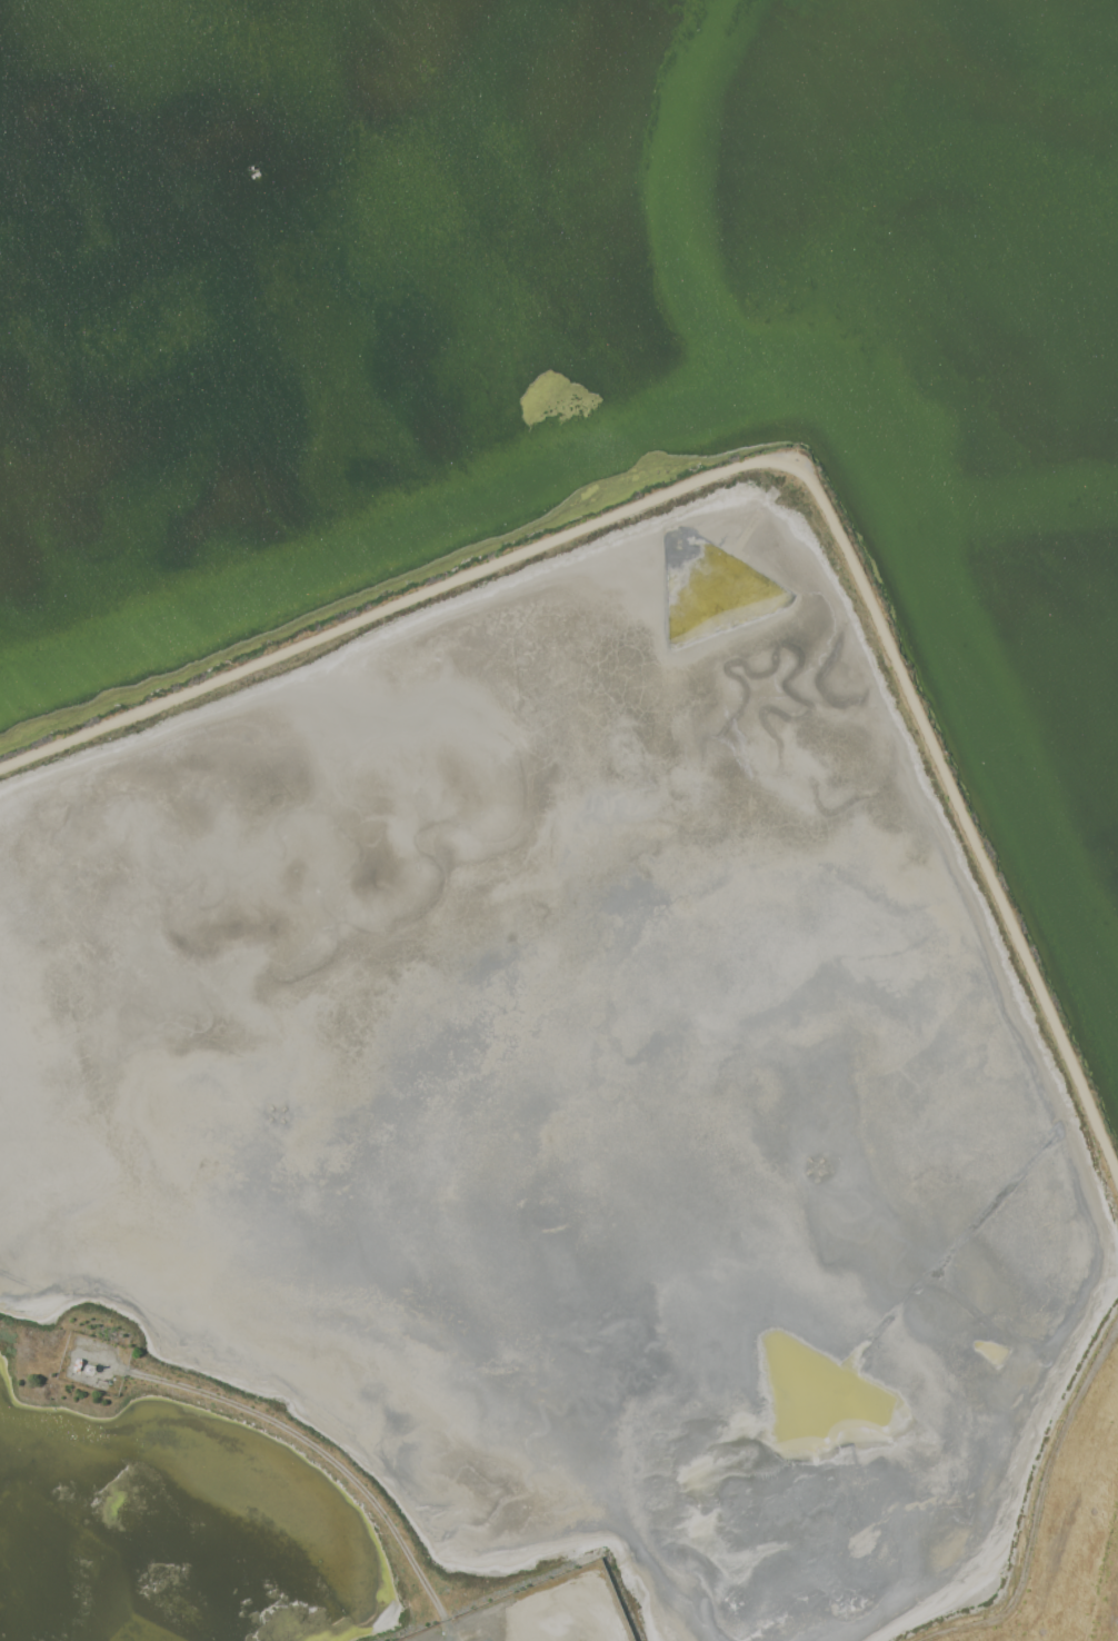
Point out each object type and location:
building: (252, 171)
road: (759, 460)
road: (325, 1462)
road: (1038, 1505)
airport: (542, 1613)

